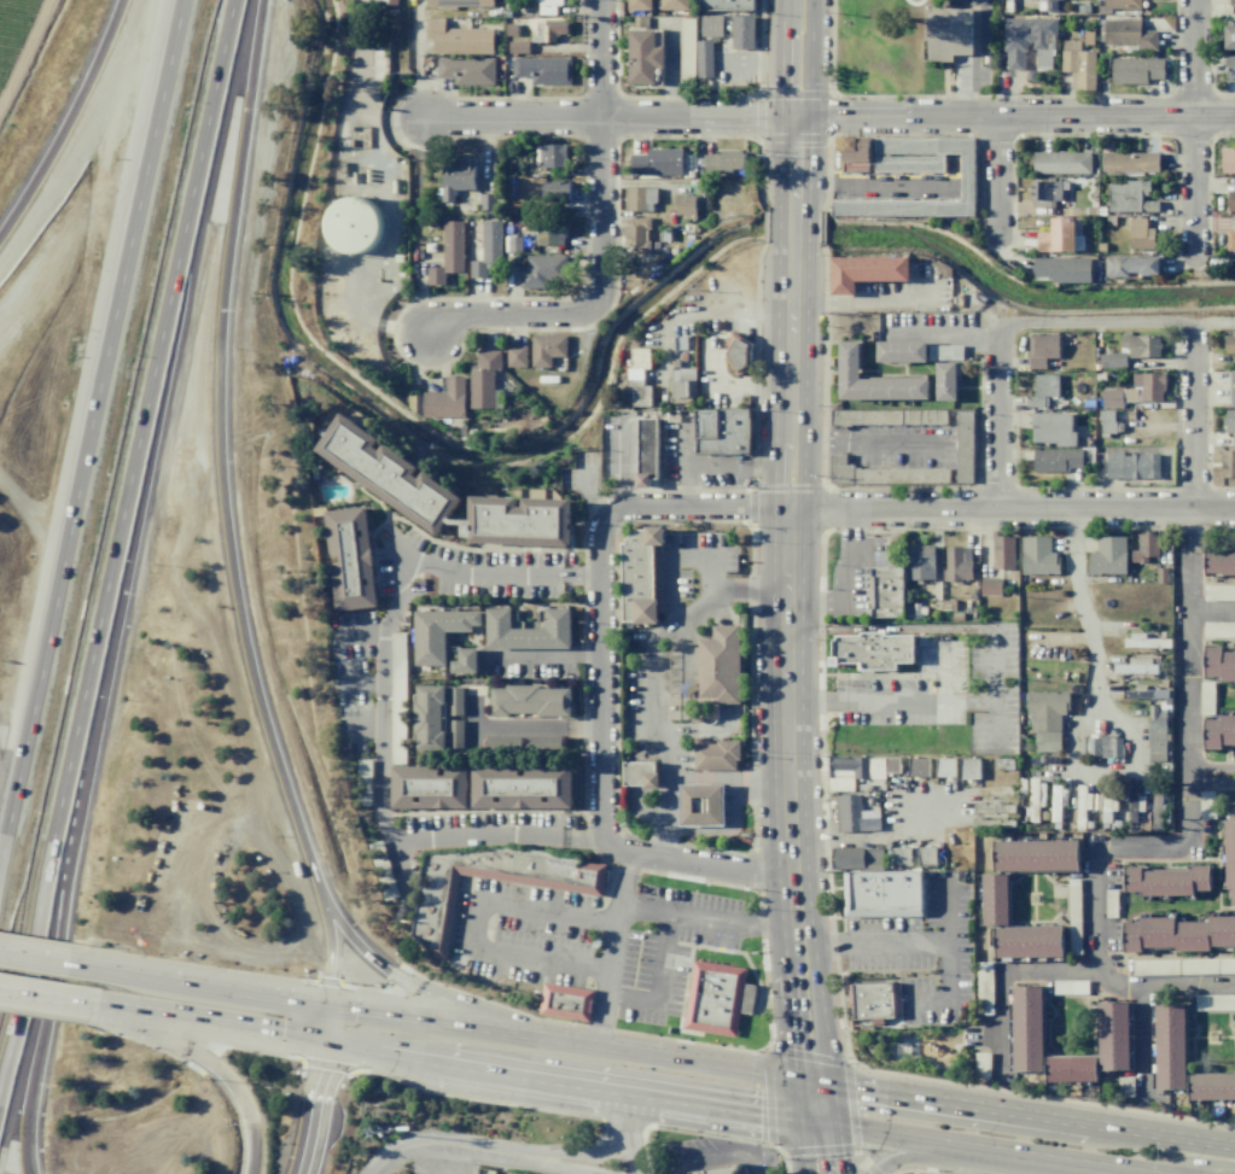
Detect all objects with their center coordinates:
building: (386, 2)
building: (458, 2)
road: (913, 2)
building: (1231, 2)
building: (1122, 4)
building: (639, 5)
building: (674, 5)
building: (726, 5)
building: (1047, 5)
building: (548, 6)
building: (710, 25)
building: (511, 29)
building: (548, 30)
building: (742, 31)
building: (948, 33)
building: (1129, 34)
building: (1230, 37)
building: (458, 39)
building: (1027, 40)
crop: (22, 43)
building: (517, 46)
park: (881, 48)
road: (23, 53)
building: (642, 56)
building: (703, 59)
road: (757, 59)
building: (1078, 64)
parking lot: (733, 66)
building: (1230, 66)
building: (466, 70)
building: (543, 70)
building: (1135, 70)
road: (960, 86)
road: (794, 105)
road: (608, 117)
road: (1014, 117)
traffic signals: (794, 118)
road: (70, 123)
road: (1192, 130)
building: (855, 154)
building: (553, 156)
building: (724, 159)
building: (1228, 160)
building: (657, 162)
building: (1060, 162)
building: (1129, 162)
building: (455, 177)
road: (1000, 180)
building: (966, 186)
building: (555, 192)
building: (1048, 193)
building: (1130, 197)
building: (640, 198)
building: (488, 201)
building: (1231, 201)
building: (685, 206)
building: (325, 222)
building: (354, 224)
road: (792, 226)
building: (548, 234)
building: (1140, 234)
building: (636, 235)
building: (1056, 235)
road: (599, 239)
building: (1230, 240)
building: (513, 244)
building: (488, 247)
building: (449, 252)
building: (1136, 264)
building: (1062, 268)
building: (540, 269)
building: (943, 269)
building: (864, 271)
road: (866, 300)
road: (1214, 320)
road: (1007, 323)
road: (942, 332)
building: (1229, 344)
building: (1141, 345)
building: (546, 349)
building: (1042, 349)
building: (899, 351)
building: (944, 352)
building: (736, 354)
building: (517, 356)
building: (1112, 361)
building: (637, 376)
parking lot: (717, 378)
building: (483, 379)
building: (872, 380)
building: (945, 381)
building: (682, 382)
building: (1149, 385)
building: (1233, 389)
building: (1042, 390)
building: (1111, 398)
building: (444, 399)
road: (88, 413)
road: (1193, 414)
building: (887, 416)
building: (1106, 421)
building: (1229, 422)
building: (1053, 428)
building: (722, 432)
building: (963, 433)
road: (861, 443)
parking lot: (619, 448)
building: (646, 451)
parking lot: (694, 457)
building: (1059, 458)
road: (624, 462)
building: (1228, 463)
road: (736, 465)
road: (686, 466)
building: (1131, 466)
building: (443, 495)
road: (698, 506)
road: (232, 507)
road: (1010, 507)
road: (850, 522)
building: (1144, 548)
building: (1002, 550)
road: (126, 553)
road: (710, 555)
building: (1037, 556)
building: (1107, 556)
building: (350, 557)
building: (1211, 561)
building: (1227, 561)
building: (919, 562)
building: (956, 563)
building: (1160, 574)
building: (642, 576)
parking lot: (855, 576)
building: (990, 586)
road: (669, 591)
building: (885, 592)
road: (843, 597)
road: (785, 601)
road: (1082, 609)
road: (1211, 612)
road: (892, 627)
building: (528, 630)
road: (361, 632)
building: (439, 632)
building: (1144, 643)
building: (872, 649)
road: (542, 655)
building: (1211, 659)
building: (464, 661)
parking lot: (529, 662)
building: (721, 665)
building: (1227, 665)
building: (1135, 668)
road: (1187, 668)
road: (994, 672)
road: (940, 674)
road: (648, 676)
road: (360, 682)
parking lot: (946, 689)
building: (1146, 694)
road: (381, 695)
building: (397, 697)
building: (454, 700)
building: (531, 701)
road: (889, 702)
road: (474, 709)
building: (1045, 709)
building: (429, 717)
road: (537, 728)
road: (994, 728)
building: (1228, 728)
road: (363, 729)
building: (454, 732)
building: (1155, 734)
building: (1211, 734)
road: (474, 737)
building: (1047, 741)
building: (502, 743)
building: (542, 743)
building: (1100, 746)
road: (641, 748)
building: (713, 754)
gas station: (713, 754)
building: (891, 765)
building: (916, 766)
building: (945, 766)
building: (969, 767)
road: (1211, 767)
road: (601, 769)
building: (854, 770)
road: (633, 773)
building: (640, 775)
road: (724, 777)
road: (1211, 782)
building: (427, 787)
building: (520, 787)
building: (1036, 795)
building: (700, 805)
road: (637, 810)
building: (1230, 811)
building: (851, 814)
building: (1229, 853)
building: (1032, 854)
building: (899, 855)
building: (856, 857)
building: (926, 857)
road: (1093, 860)
building: (1131, 877)
building: (1199, 877)
building: (1165, 882)
building: (881, 893)
building: (1231, 895)
building: (992, 898)
road: (946, 910)
building: (432, 915)
road: (706, 917)
road: (474, 923)
building: (1221, 930)
building: (1155, 931)
building: (1190, 936)
building: (1130, 938)
parking lot: (593, 941)
building: (1026, 941)
road: (922, 942)
road: (612, 948)
parking lot: (920, 951)
road: (34, 959)
road: (1066, 970)
road: (657, 982)
road: (413, 986)
road: (45, 997)
building: (713, 998)
building: (565, 1001)
building: (876, 1003)
traffic signals: (325, 1005)
road: (819, 1018)
road: (206, 1022)
road: (447, 1022)
building: (1025, 1027)
building: (1112, 1033)
road: (792, 1034)
road: (35, 1035)
road: (1140, 1040)
traffic signals: (322, 1041)
building: (1169, 1045)
road: (805, 1055)
road: (204, 1062)
building: (1068, 1067)
traffic signals: (797, 1077)
road: (560, 1080)
traffic signals: (826, 1082)
building: (1211, 1085)
road: (318, 1090)
road: (767, 1097)
road: (852, 1105)
road: (1030, 1114)
traffic signals: (799, 1116)
traffic signals: (832, 1122)
road: (832, 1128)
road: (627, 1132)
road: (803, 1145)
road: (972, 1146)
road: (497, 1151)
road: (854, 1151)
road: (816, 1152)
road: (911, 1155)
road: (718, 1156)
road: (858, 1158)
road: (1206, 1163)
building: (720, 1170)
road: (869, 1170)

